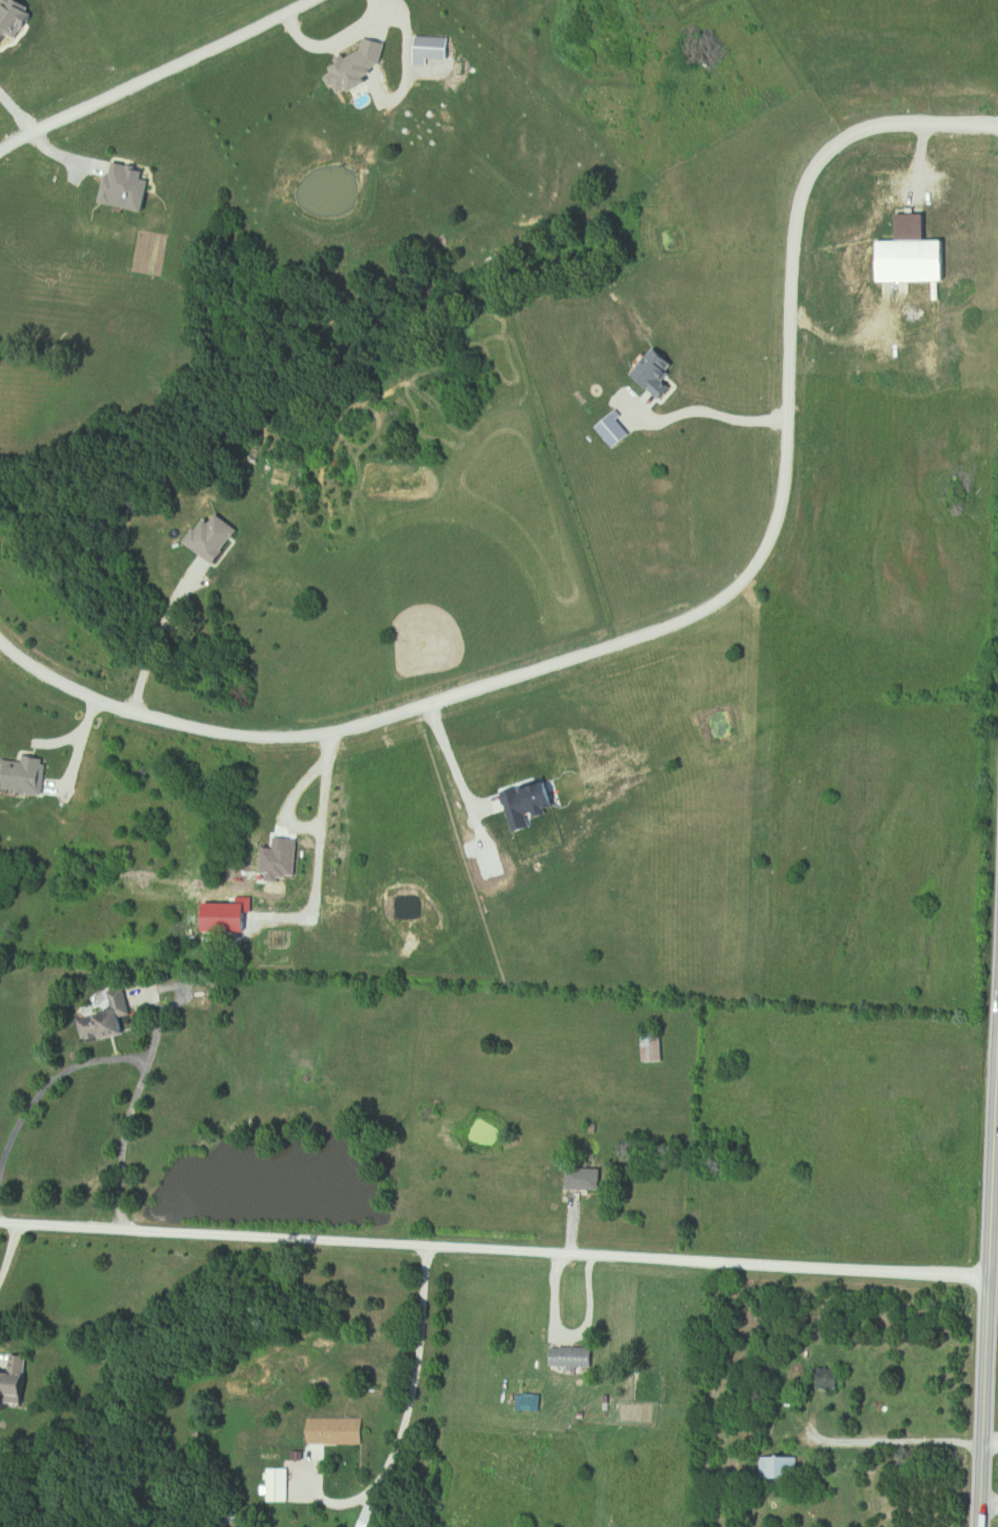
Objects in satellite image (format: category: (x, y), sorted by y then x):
road: (149, 75)
road: (707, 413)
road: (670, 622)
road: (155, 634)
road: (85, 753)
road: (452, 763)
building: (92, 1022)
building: (653, 1047)
road: (127, 1061)
road: (994, 1085)
road: (989, 1159)
building: (584, 1179)
road: (494, 1249)
road: (9, 1252)
building: (571, 1358)
building: (17, 1384)
building: (831, 1384)
road: (405, 1425)
building: (336, 1431)
road: (989, 1442)
building: (778, 1468)
building: (281, 1484)

